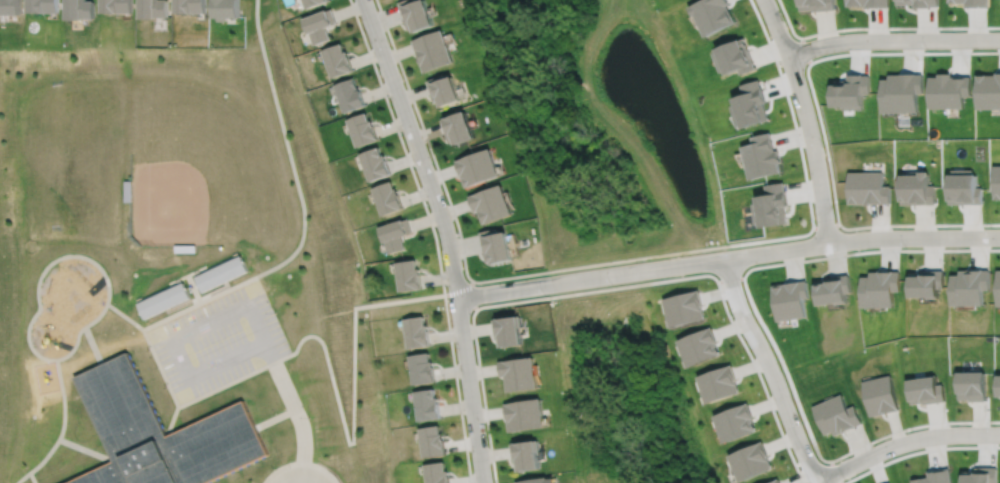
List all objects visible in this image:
building: (311, 2)
building: (869, 2)
building: (920, 2)
building: (976, 2)
building: (817, 3)
building: (115, 5)
building: (189, 5)
building: (152, 7)
building: (226, 8)
building: (418, 13)
building: (712, 14)
building: (319, 23)
road: (877, 27)
road: (892, 39)
building: (434, 48)
road: (951, 51)
building: (735, 56)
building: (337, 58)
building: (446, 88)
building: (948, 90)
building: (988, 90)
building: (851, 91)
building: (901, 91)
building: (350, 93)
building: (750, 103)
road: (806, 118)
building: (460, 126)
building: (362, 128)
road: (427, 139)
building: (761, 155)
park: (67, 161)
building: (375, 162)
building: (479, 166)
road: (442, 173)
park: (193, 177)
building: (996, 181)
building: (867, 187)
building: (916, 187)
building: (963, 187)
building: (127, 189)
building: (388, 197)
building: (493, 203)
building: (772, 204)
road: (877, 224)
building: (395, 234)
road: (433, 235)
road: (446, 235)
building: (498, 245)
building: (184, 247)
road: (73, 254)
road: (727, 255)
road: (200, 267)
road: (202, 270)
road: (196, 272)
building: (221, 272)
building: (409, 275)
road: (729, 278)
road: (174, 279)
road: (179, 281)
building: (927, 283)
road: (618, 286)
building: (971, 286)
building: (999, 287)
building: (880, 288)
building: (833, 289)
road: (214, 290)
road: (157, 291)
road: (473, 295)
road: (139, 299)
building: (790, 299)
building: (163, 300)
road: (182, 302)
building: (683, 307)
road: (234, 309)
road: (123, 315)
building: (508, 330)
building: (416, 332)
road: (766, 332)
parking lot: (217, 340)
road: (299, 342)
road: (93, 345)
building: (698, 346)
building: (421, 368)
road: (770, 369)
building: (520, 373)
building: (718, 383)
building: (998, 385)
building: (972, 386)
building: (926, 390)
building: (881, 395)
building: (426, 405)
building: (526, 415)
building: (836, 415)
road: (276, 416)
road: (172, 419)
building: (735, 422)
road: (61, 429)
building: (163, 434)
building: (431, 441)
road: (904, 441)
road: (85, 449)
building: (526, 456)
building: (750, 461)
road: (300, 462)
building: (436, 473)
road: (300, 474)
building: (981, 475)
road: (30, 477)
building: (935, 477)
building: (539, 480)
building: (776, 481)

